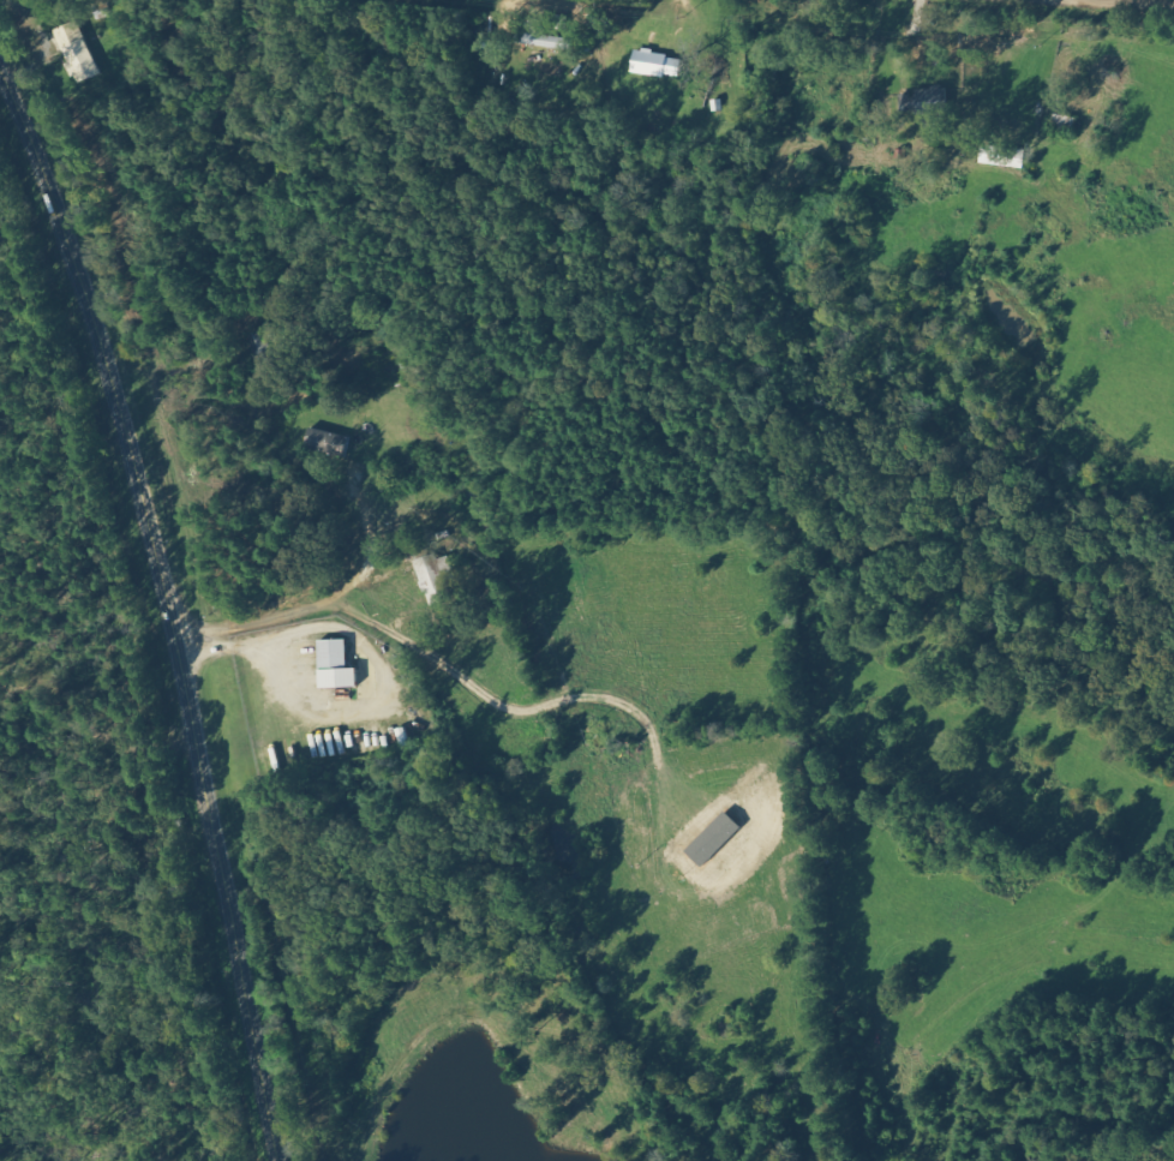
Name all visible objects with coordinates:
road: (935, 12)
building: (543, 41)
building: (655, 64)
building: (927, 101)
building: (1001, 156)
building: (327, 442)
building: (435, 577)
road: (654, 597)
road: (163, 620)
building: (334, 665)
road: (688, 874)

